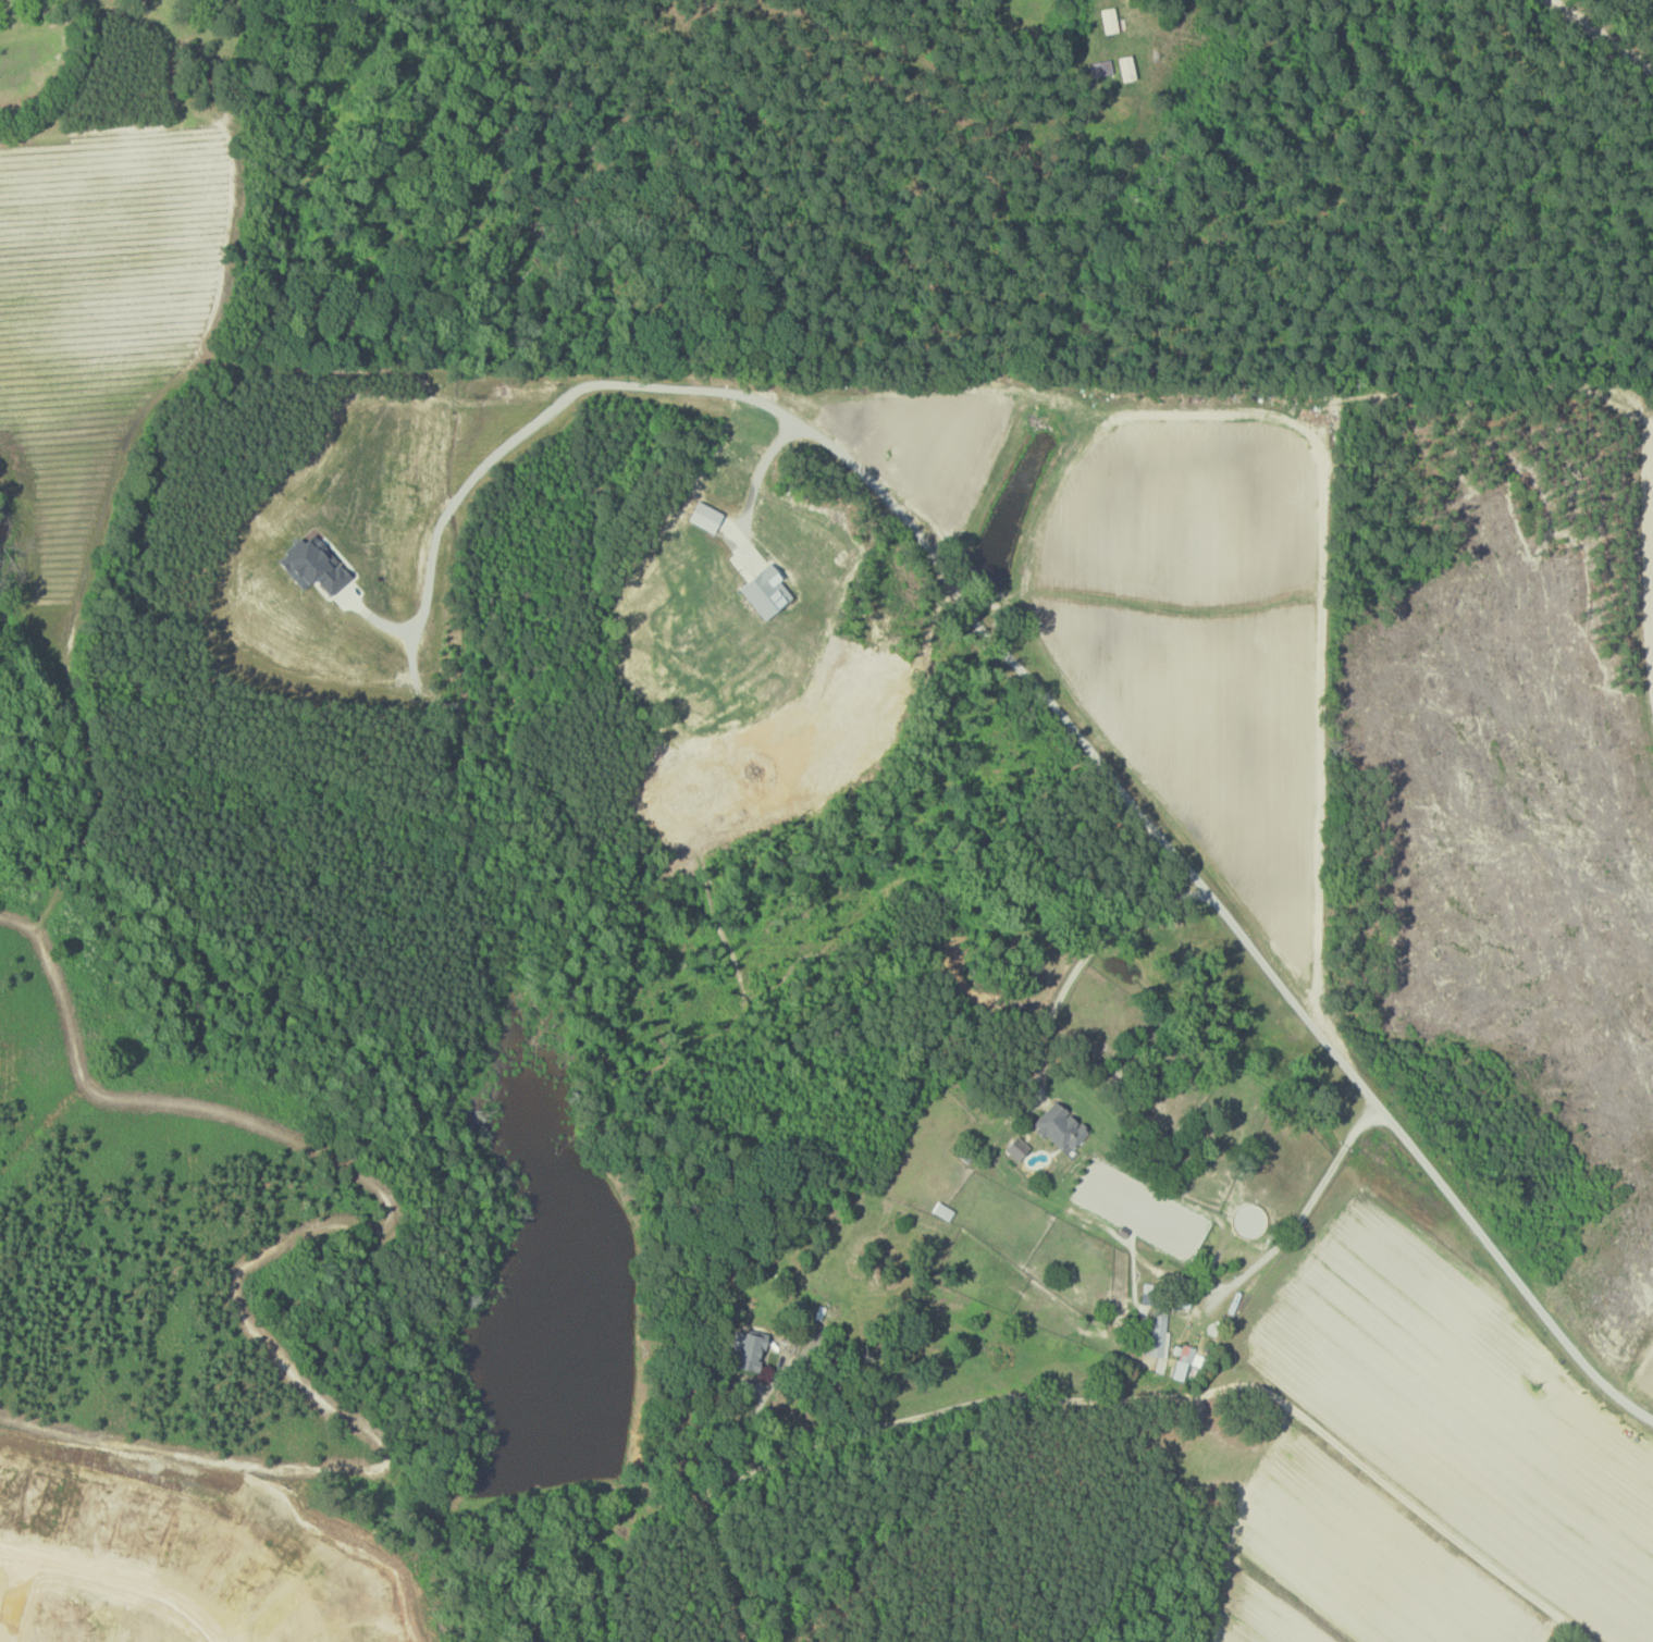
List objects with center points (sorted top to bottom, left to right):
building: (1110, 20)
road: (1596, 38)
road: (517, 433)
road: (762, 470)
building: (316, 561)
building: (766, 590)
road: (1214, 898)
road: (1086, 954)
building: (1061, 1125)
building: (1019, 1147)
road: (1302, 1217)
building: (749, 1350)
building: (1192, 1355)
road: (1638, 1375)
road: (1181, 1395)
road: (739, 1428)
road: (114, 1581)
road: (17, 1597)

